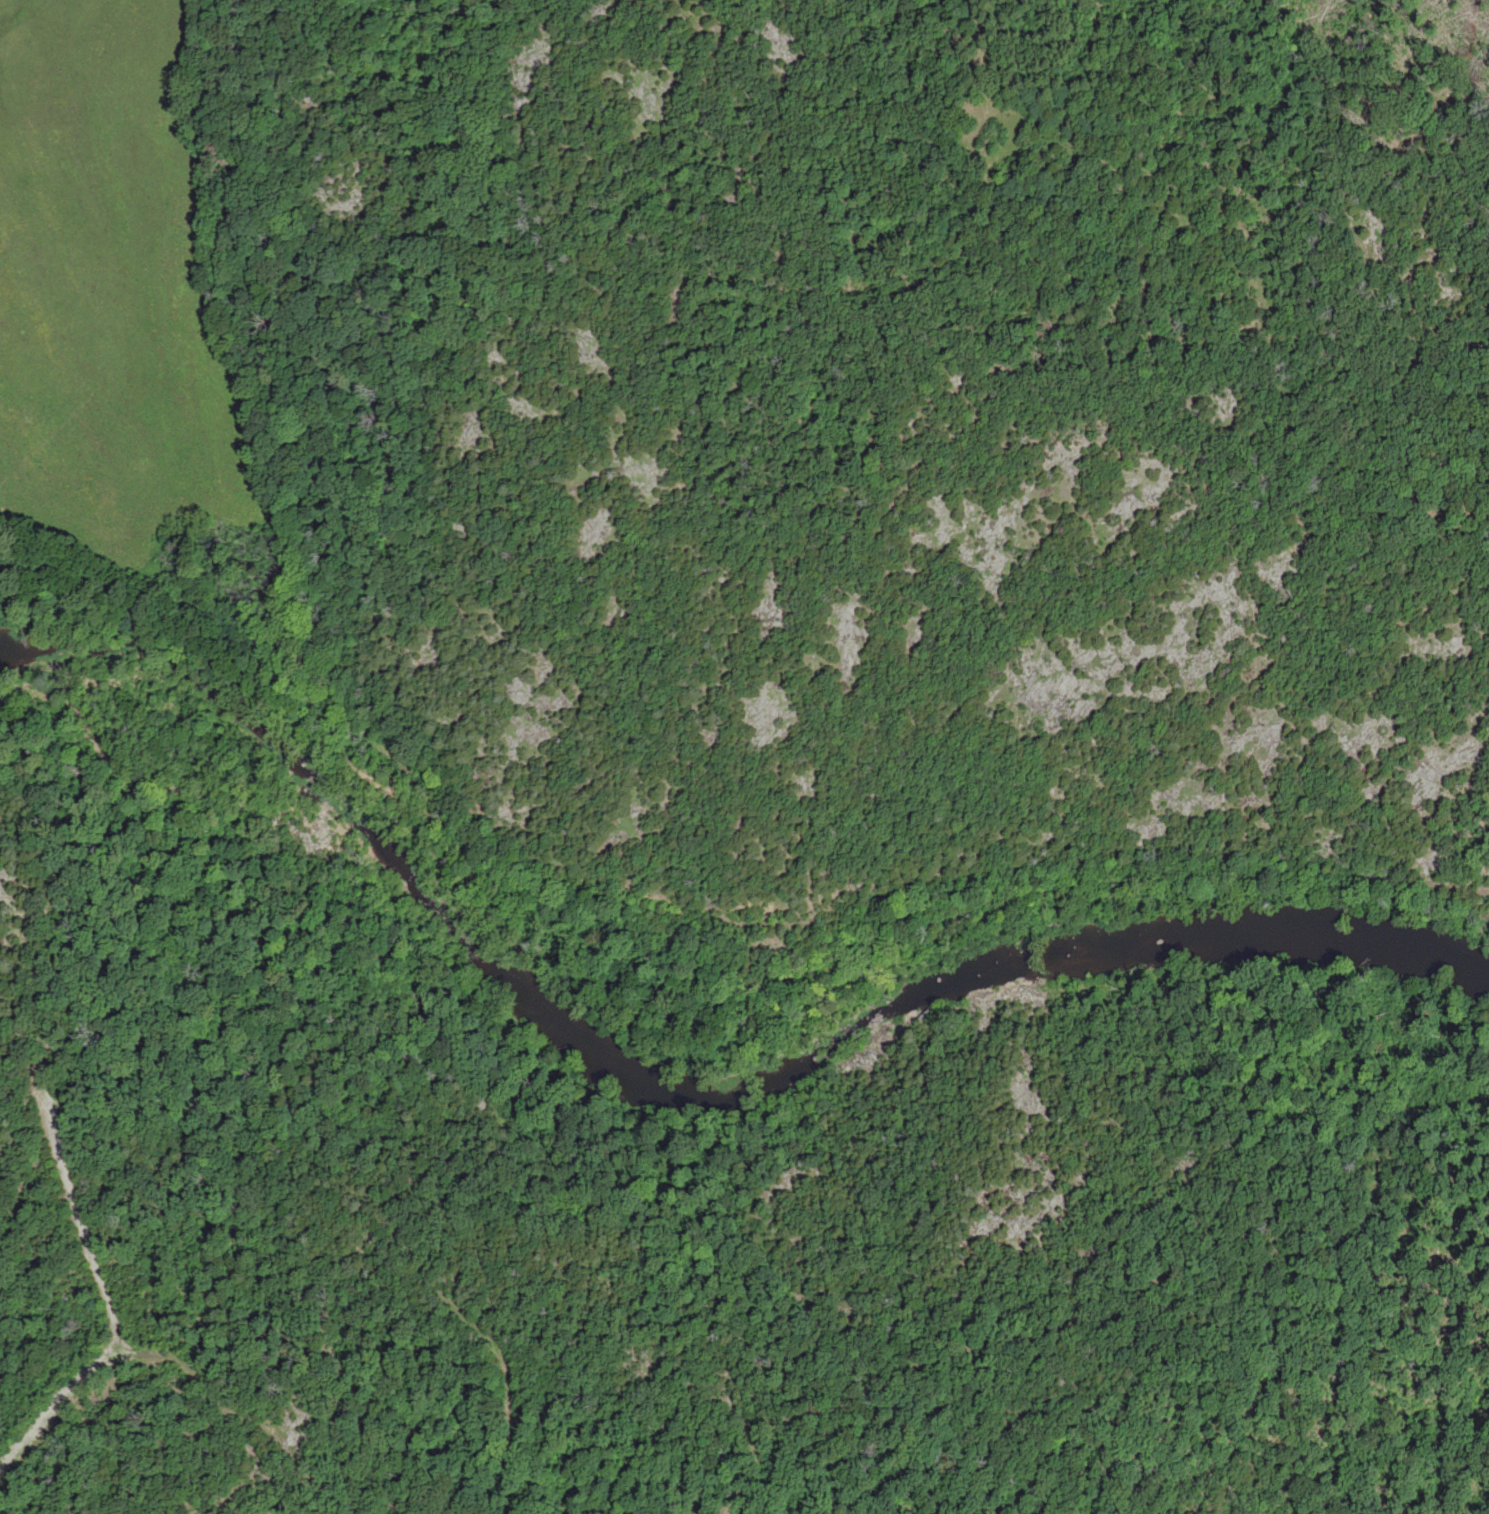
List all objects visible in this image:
river: (683, 1094)

